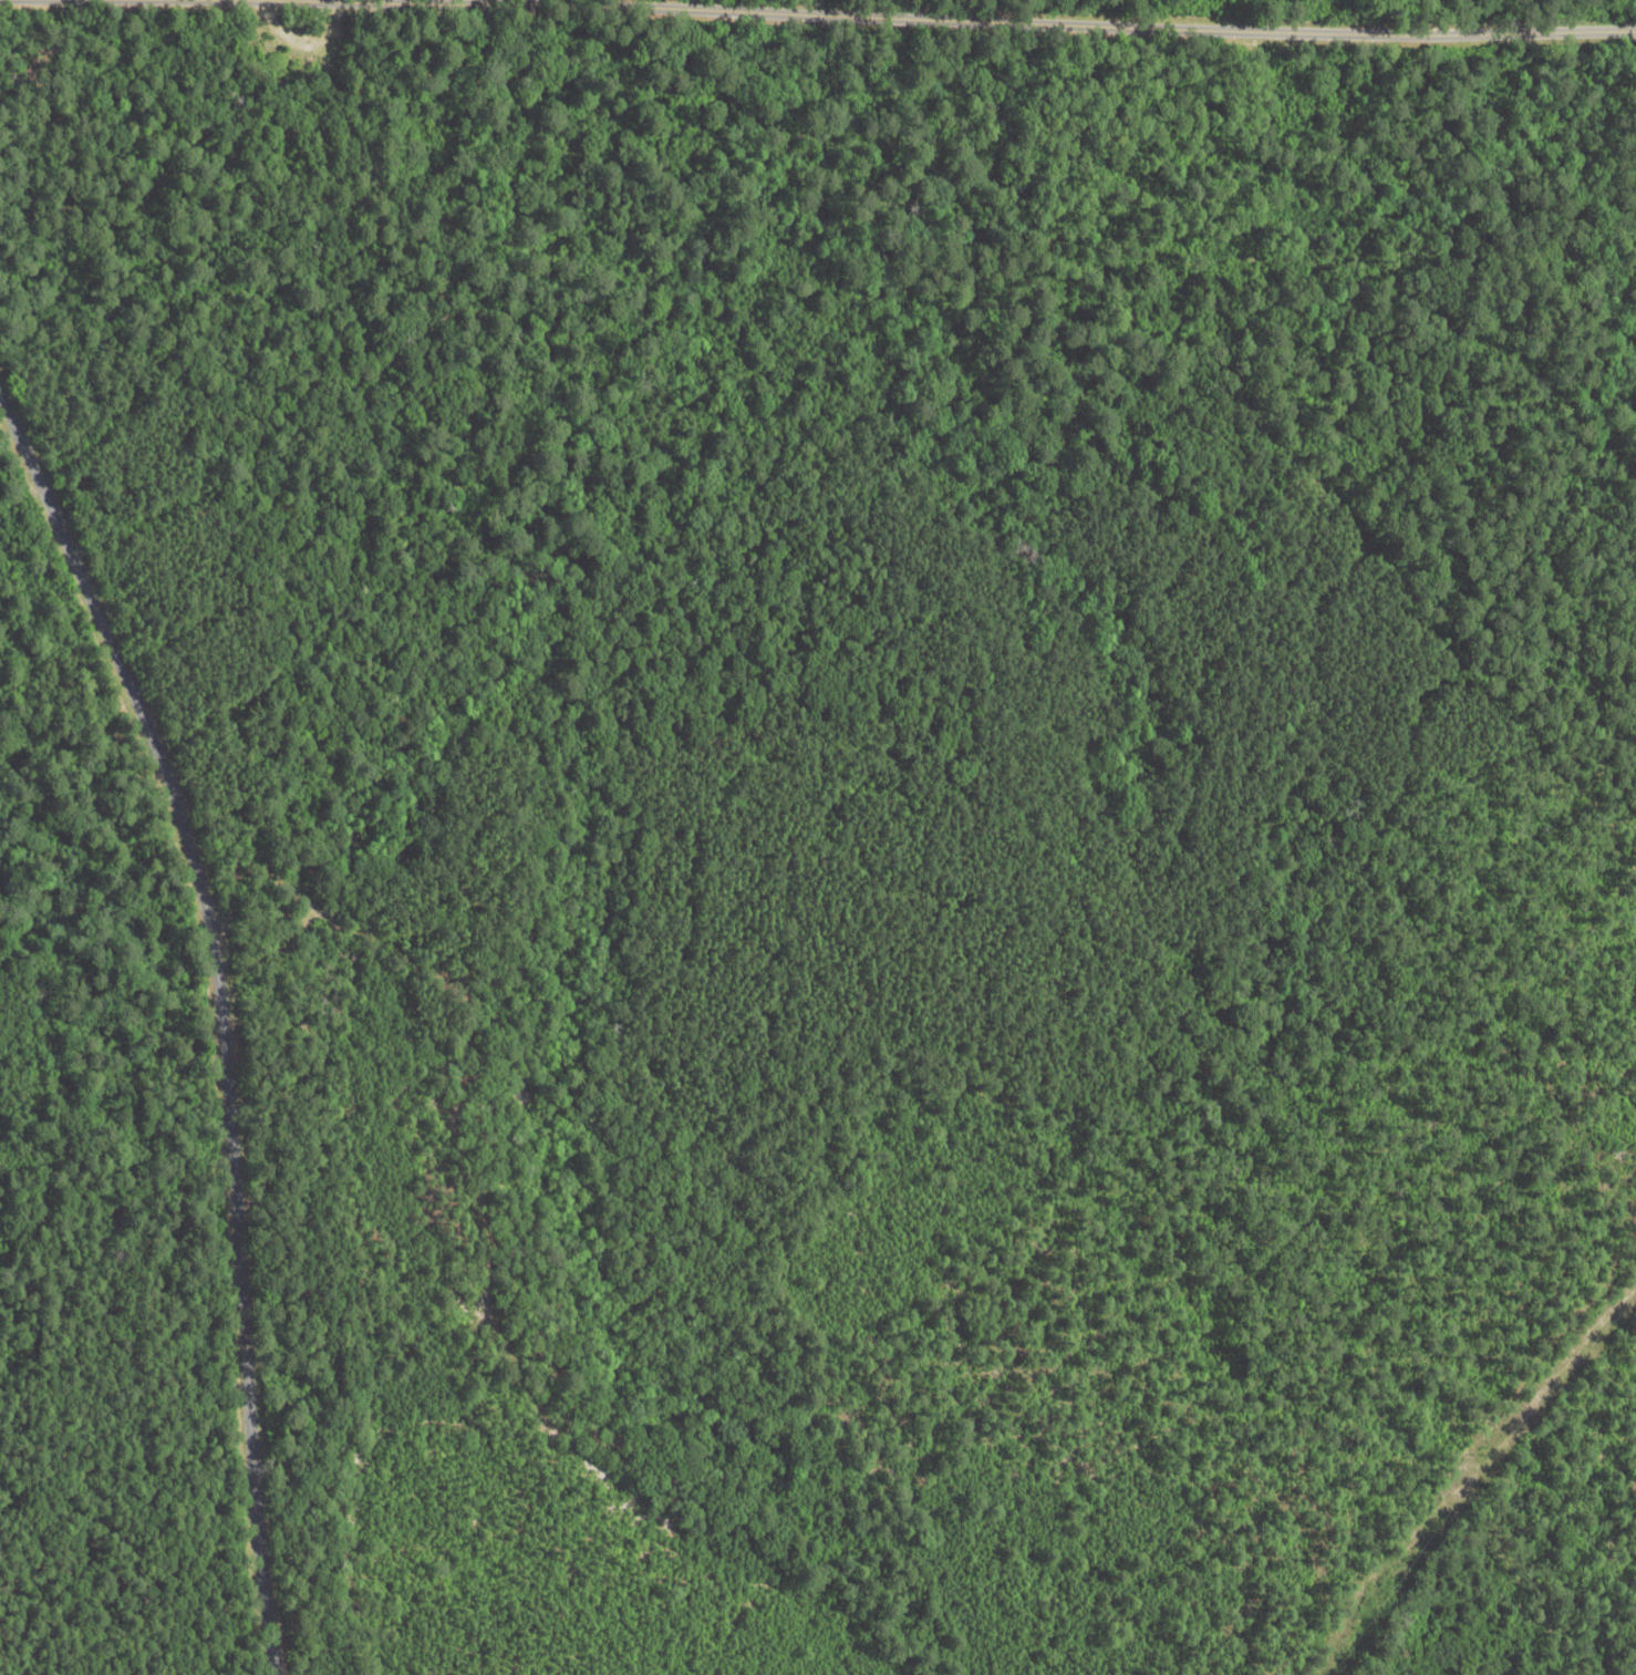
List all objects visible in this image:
road: (917, 19)
road: (809, 139)
road: (214, 1013)
road: (1478, 1477)

